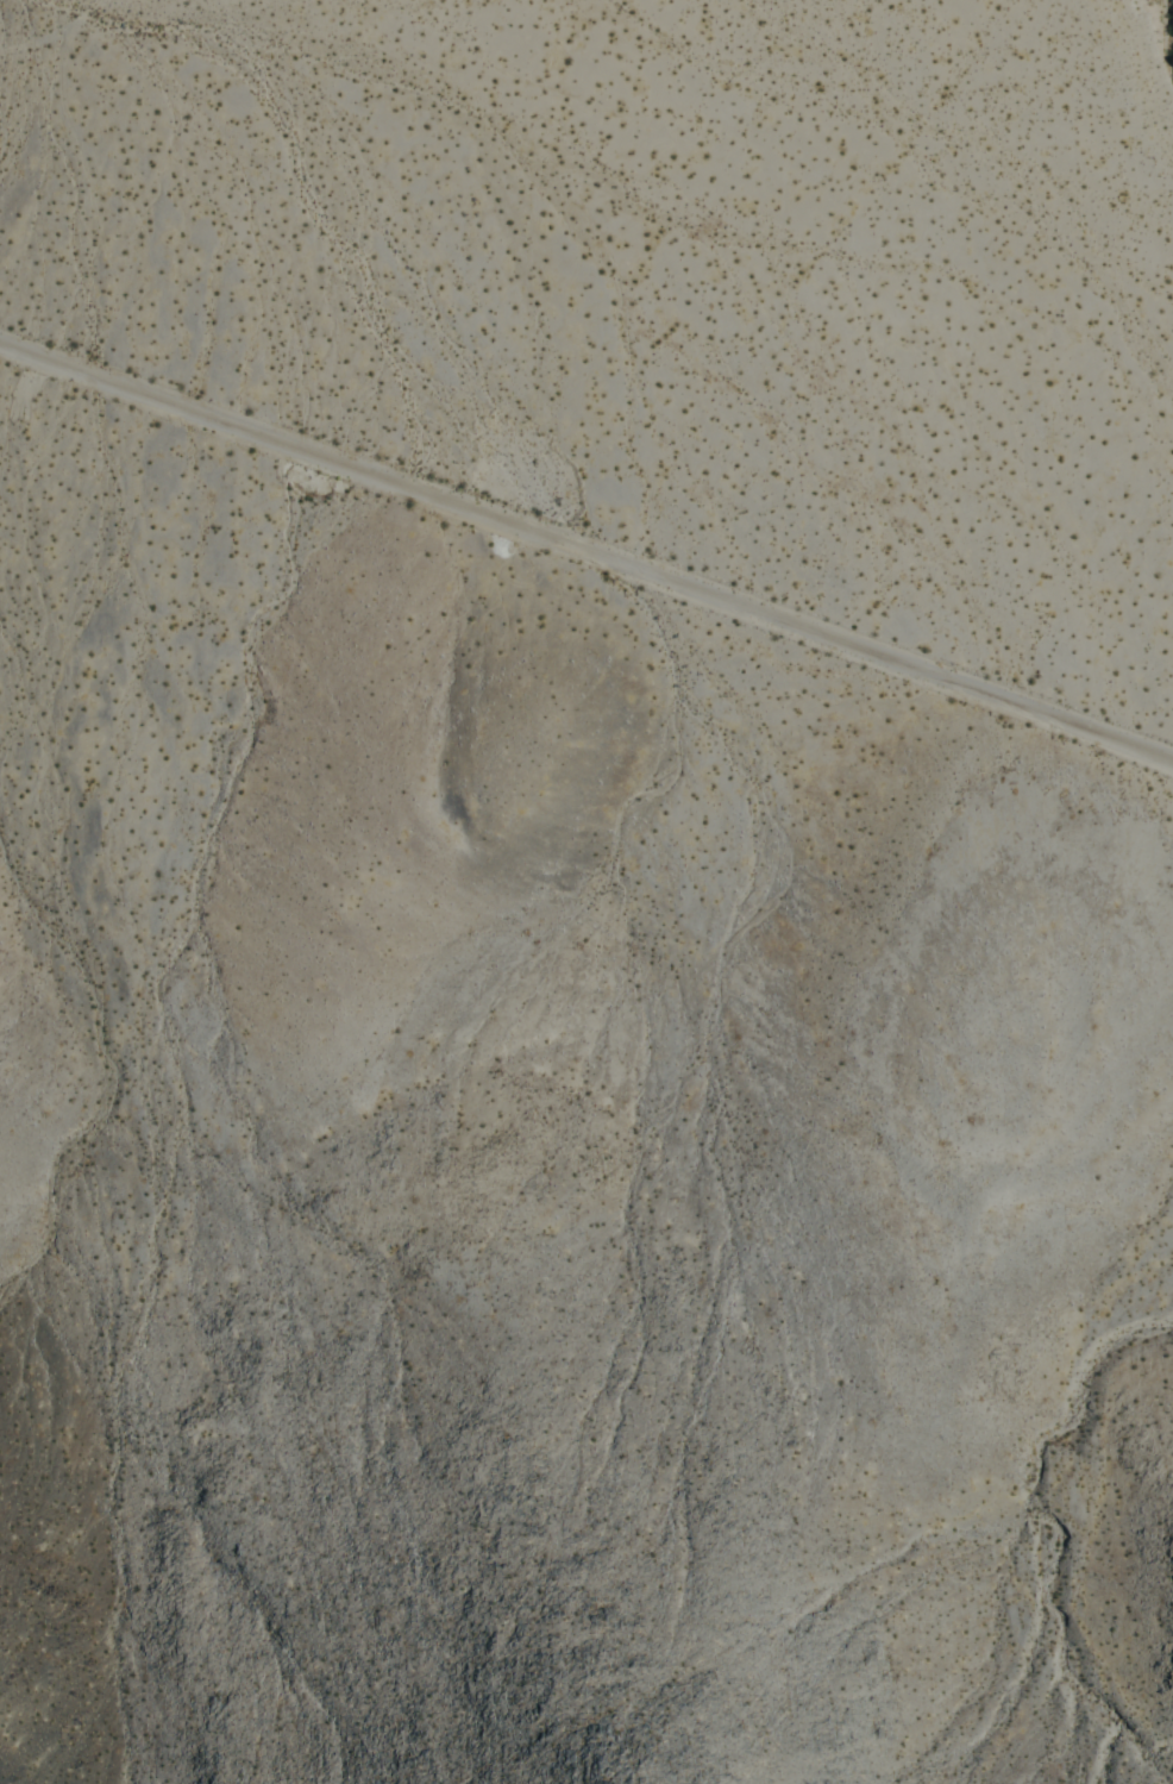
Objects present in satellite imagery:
road: (269, 434)
road: (857, 638)

